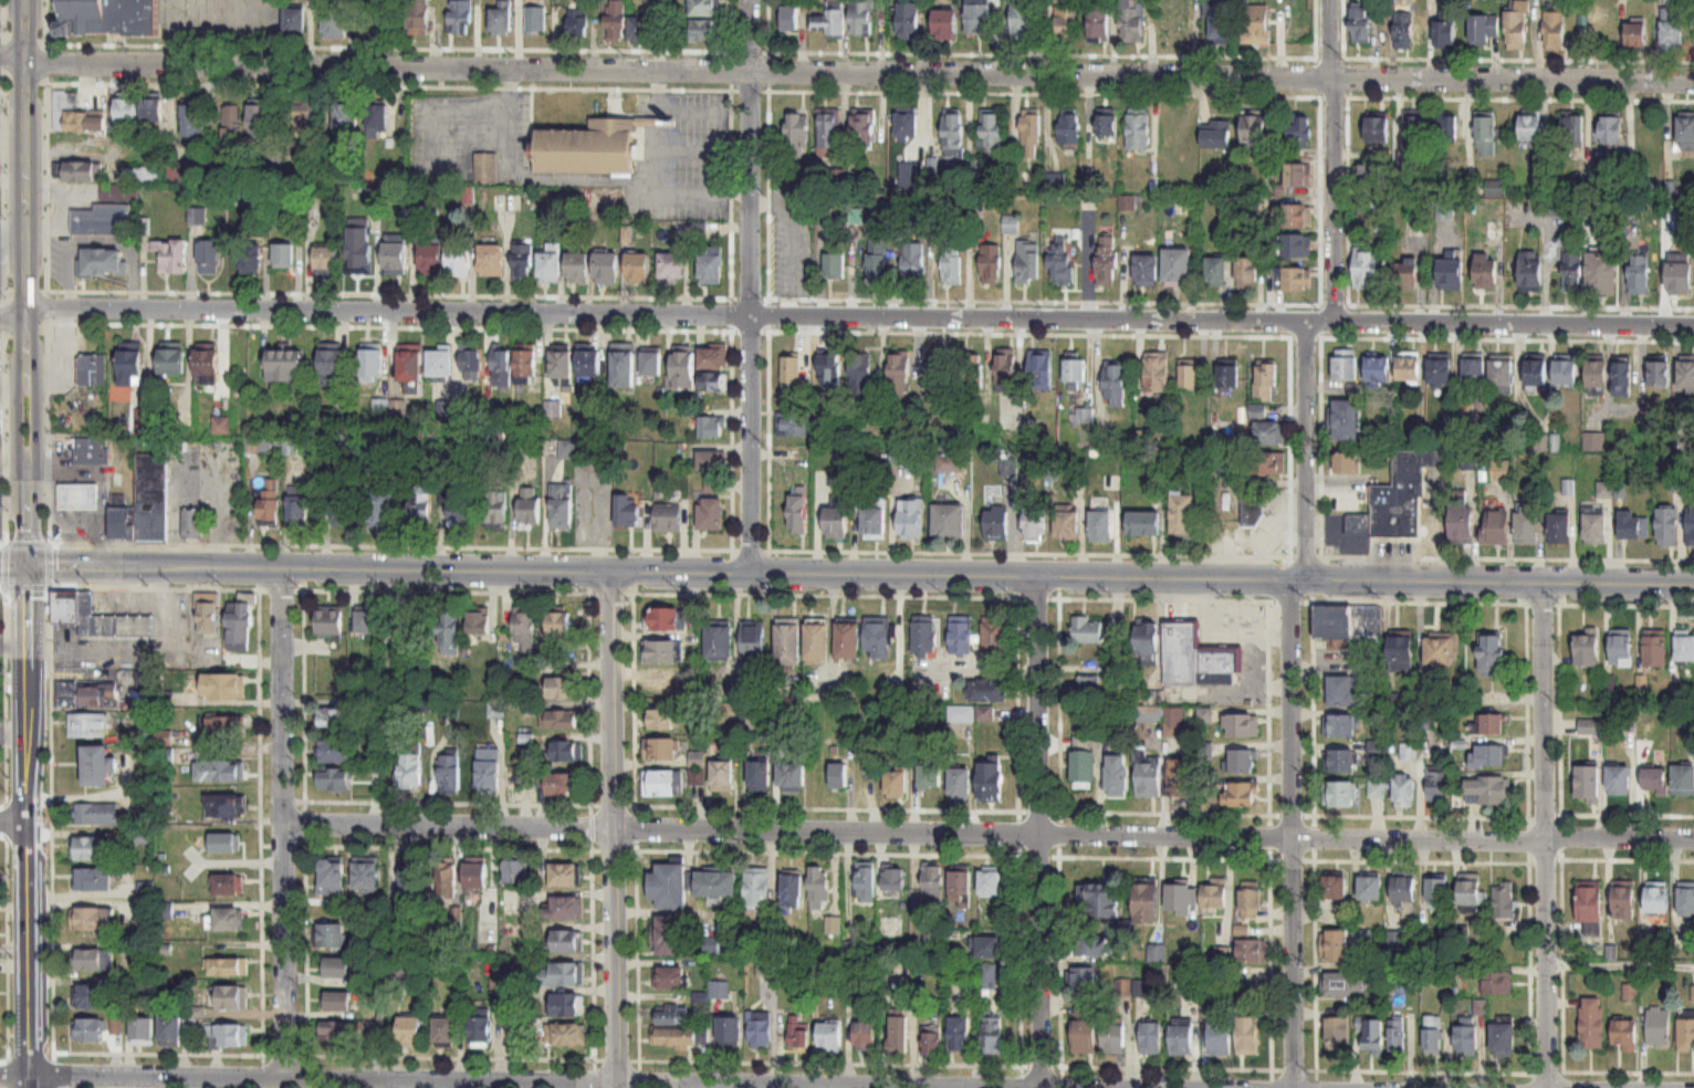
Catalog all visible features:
building: (702, 8)
building: (387, 17)
building: (460, 17)
building: (979, 17)
building: (108, 18)
building: (417, 18)
building: (861, 18)
building: (500, 19)
building: (333, 20)
building: (535, 20)
building: (790, 20)
building: (832, 20)
building: (1067, 20)
road: (7, 21)
building: (909, 21)
building: (1099, 21)
building: (1132, 21)
building: (616, 22)
building: (1024, 22)
building: (1216, 22)
building: (578, 23)
building: (1171, 23)
building: (293, 24)
building: (1255, 24)
building: (944, 25)
building: (1361, 25)
building: (1517, 28)
building: (1673, 29)
building: (640, 30)
building: (1484, 30)
building: (703, 31)
building: (1403, 31)
building: (1555, 32)
road: (177, 33)
road: (264, 33)
building: (1445, 35)
building: (1637, 36)
road: (846, 72)
road: (657, 92)
building: (126, 109)
building: (151, 111)
building: (74, 115)
building: (306, 118)
building: (345, 118)
building: (376, 118)
building: (258, 121)
road: (657, 122)
building: (192, 123)
building: (231, 123)
building: (907, 126)
building: (1107, 126)
building: (1449, 128)
building: (1530, 128)
building: (864, 129)
building: (1069, 129)
building: (1139, 129)
building: (1377, 130)
building: (1612, 130)
building: (797, 132)
building: (829, 132)
building: (1573, 132)
building: (953, 133)
building: (1255, 133)
building: (1686, 134)
building: (992, 135)
building: (1216, 135)
building: (1299, 135)
building: (1032, 136)
building: (1415, 136)
building: (1486, 137)
building: (592, 147)
road: (1332, 161)
building: (485, 169)
building: (81, 172)
building: (1298, 176)
road: (675, 190)
road: (6, 191)
building: (112, 193)
building: (1128, 205)
building: (1294, 216)
building: (98, 220)
building: (1297, 245)
building: (358, 251)
building: (394, 253)
building: (171, 255)
building: (209, 257)
building: (283, 257)
building: (326, 259)
building: (250, 260)
building: (430, 260)
building: (491, 260)
building: (878, 260)
building: (457, 261)
building: (1107, 261)
building: (102, 262)
building: (521, 262)
building: (548, 262)
building: (1028, 262)
building: (914, 263)
building: (711, 265)
building: (835, 265)
building: (992, 265)
building: (1063, 265)
building: (576, 266)
building: (606, 266)
building: (672, 266)
building: (952, 266)
building: (638, 268)
building: (1177, 268)
building: (1572, 268)
building: (1366, 269)
building: (1146, 271)
building: (1216, 271)
building: (1602, 271)
building: (1246, 272)
building: (1486, 272)
building: (1530, 272)
building: (1404, 274)
building: (1450, 274)
building: (1639, 274)
building: (1680, 276)
building: (1296, 279)
road: (753, 286)
road: (846, 317)
road: (7, 318)
building: (713, 357)
building: (170, 362)
building: (206, 363)
building: (370, 363)
building: (409, 364)
building: (439, 364)
building: (588, 364)
building: (651, 364)
building: (1345, 365)
building: (470, 366)
building: (524, 366)
building: (560, 366)
building: (129, 367)
building: (284, 367)
building: (331, 367)
building: (92, 369)
building: (501, 369)
building: (621, 369)
building: (682, 369)
building: (1408, 369)
building: (1473, 369)
building: (1565, 370)
building: (830, 372)
building: (1005, 372)
building: (1041, 372)
building: (1075, 372)
building: (1378, 372)
building: (792, 373)
building: (940, 373)
building: (973, 373)
building: (1157, 373)
building: (1439, 373)
building: (861, 374)
building: (900, 374)
building: (1500, 374)
building: (1535, 374)
building: (1597, 374)
building: (1659, 375)
building: (1189, 376)
building: (1686, 376)
building: (1228, 377)
building: (1622, 379)
building: (714, 381)
building: (1266, 383)
building: (1115, 386)
building: (1084, 416)
building: (1346, 420)
building: (797, 423)
building: (711, 427)
building: (1270, 433)
road: (6, 439)
building: (295, 446)
building: (91, 454)
building: (711, 460)
building: (950, 462)
building: (1266, 463)
building: (1347, 463)
building: (77, 494)
building: (151, 498)
building: (1405, 499)
building: (270, 501)
building: (419, 504)
building: (296, 505)
building: (454, 505)
building: (529, 506)
building: (560, 506)
building: (1252, 506)
building: (495, 509)
building: (378, 511)
building: (626, 511)
building: (710, 512)
building: (341, 513)
building: (797, 513)
building: (1182, 514)
building: (666, 515)
building: (909, 516)
building: (947, 517)
building: (835, 521)
building: (872, 521)
building: (1461, 521)
building: (118, 522)
building: (191, 523)
building: (994, 523)
building: (1066, 523)
building: (1143, 523)
building: (1034, 524)
building: (1099, 524)
building: (1631, 524)
building: (1665, 524)
building: (1526, 525)
building: (1558, 526)
building: (1593, 526)
building: (1691, 526)
building: (1494, 527)
road: (28, 543)
road: (787, 550)
road: (1507, 556)
traffic signals: (28, 567)
road: (846, 575)
road: (1290, 599)
road: (1608, 603)
building: (207, 617)
building: (97, 619)
building: (327, 620)
building: (662, 620)
building: (365, 623)
building: (478, 623)
building: (1347, 623)
building: (239, 625)
building: (557, 627)
building: (524, 630)
building: (960, 632)
building: (1091, 632)
building: (449, 634)
building: (877, 635)
building: (994, 637)
building: (408, 638)
building: (924, 638)
building: (753, 639)
building: (788, 639)
building: (817, 639)
building: (848, 639)
building: (1147, 642)
building: (719, 644)
building: (1585, 648)
building: (1653, 648)
building: (1684, 648)
building: (1441, 650)
building: (1621, 651)
building: (661, 653)
building: (1195, 655)
building: (1401, 655)
building: (1492, 656)
building: (222, 688)
building: (562, 689)
building: (661, 689)
building: (1088, 689)
building: (989, 690)
building: (1341, 692)
building: (86, 697)
road: (1289, 703)
building: (496, 710)
building: (964, 714)
building: (985, 714)
building: (341, 720)
building: (558, 720)
building: (662, 721)
building: (1338, 723)
building: (1492, 724)
building: (87, 726)
building: (1242, 726)
building: (224, 728)
building: (1591, 728)
building: (1172, 729)
road: (14, 731)
building: (660, 751)
building: (333, 752)
building: (564, 752)
building: (1409, 752)
building: (1488, 757)
building: (1241, 760)
building: (1339, 762)
building: (98, 767)
building: (698, 770)
building: (1083, 770)
building: (219, 771)
building: (488, 771)
building: (410, 773)
building: (450, 774)
building: (1149, 775)
building: (760, 776)
building: (839, 776)
building: (1117, 776)
building: (722, 777)
building: (792, 777)
building: (930, 777)
building: (1182, 777)
building: (1617, 777)
building: (1653, 777)
building: (1682, 777)
building: (334, 781)
building: (1586, 781)
building: (991, 783)
building: (562, 785)
building: (661, 785)
building: (896, 785)
building: (961, 785)
building: (1437, 785)
building: (1377, 789)
building: (1487, 792)
building: (1404, 793)
building: (1241, 795)
building: (1340, 795)
building: (226, 806)
road: (1619, 813)
building: (96, 815)
road: (1428, 815)
road: (14, 824)
road: (285, 824)
road: (616, 829)
road: (1041, 831)
road: (990, 833)
road: (1544, 835)
building: (226, 844)
building: (93, 850)
road: (1619, 857)
road: (1405, 859)
building: (515, 872)
building: (563, 876)
building: (365, 877)
building: (475, 877)
building: (331, 878)
building: (447, 880)
building: (93, 881)
building: (895, 881)
building: (932, 883)
building: (991, 883)
building: (715, 885)
building: (228, 886)
building: (866, 886)
building: (409, 887)
building: (961, 887)
building: (669, 888)
building: (756, 889)
building: (818, 889)
building: (1335, 889)
building: (1370, 890)
building: (1404, 890)
building: (1436, 891)
building: (792, 892)
building: (1472, 895)
building: (1214, 896)
building: (1182, 899)
building: (1686, 899)
building: (1503, 901)
building: (1658, 901)
building: (1102, 902)
building: (1148, 903)
building: (1249, 903)
building: (1623, 903)
building: (1589, 906)
building: (566, 908)
building: (229, 921)
building: (93, 922)
building: (834, 927)
building: (332, 937)
building: (668, 937)
building: (562, 942)
building: (1091, 946)
building: (1335, 946)
building: (990, 949)
road: (14, 950)
building: (1251, 952)
building: (1223, 954)
building: (92, 961)
road: (1495, 966)
building: (228, 969)
building: (336, 969)
building: (560, 975)
building: (989, 977)
building: (670, 979)
building: (1494, 981)
building: (1343, 984)
building: (1086, 986)
building: (1123, 987)
building: (1192, 990)
building: (91, 997)
building: (231, 998)
building: (336, 1002)
building: (565, 1006)
building: (1479, 1007)
building: (1592, 1024)
building: (1656, 1025)
building: (760, 1029)
building: (408, 1031)
building: (443, 1031)
building: (1337, 1031)
building: (87, 1032)
building: (142, 1032)
building: (169, 1032)
building: (336, 1032)
building: (479, 1032)
building: (676, 1032)
building: (729, 1032)
building: (1623, 1032)
building: (1686, 1033)
building: (1180, 1034)
building: (1245, 1034)
building: (1432, 1034)
building: (564, 1035)
building: (797, 1035)
building: (865, 1035)
building: (960, 1035)
building: (1083, 1035)
building: (1502, 1035)
building: (829, 1036)
building: (899, 1036)
building: (1113, 1036)
building: (1149, 1036)
building: (1221, 1036)
building: (1373, 1036)
building: (1465, 1036)
building: (231, 1037)
building: (993, 1037)
building: (1397, 1037)
building: (932, 1045)
road: (1292, 1067)
road: (1628, 1070)
road: (400, 1080)

